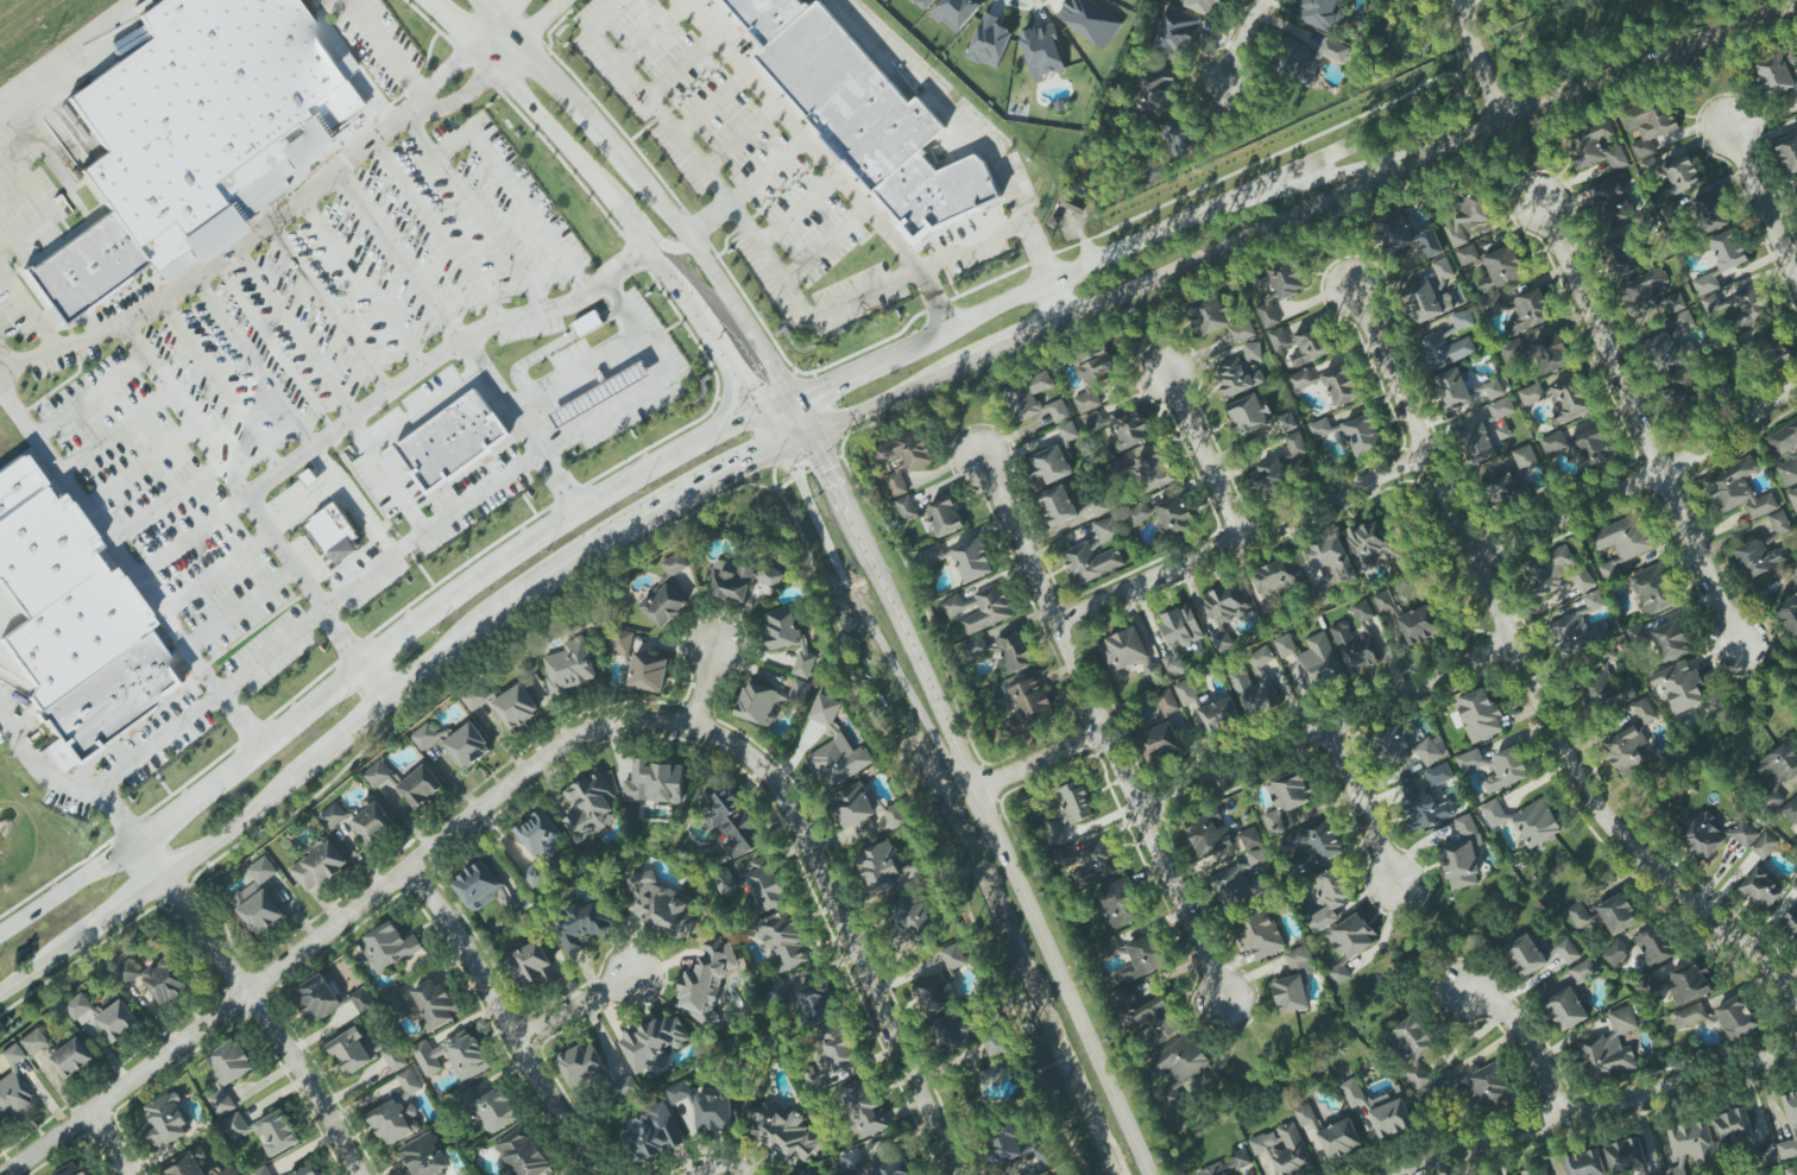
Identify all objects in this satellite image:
building: (922, 4)
building: (1204, 6)
building: (956, 12)
building: (1323, 14)
building: (1090, 20)
road: (494, 23)
road: (529, 32)
building: (1175, 32)
road: (648, 33)
park: (1436, 33)
building: (990, 42)
road: (1243, 43)
road: (64, 46)
building: (1042, 51)
road: (384, 52)
building: (1309, 59)
road: (1480, 62)
road: (679, 68)
building: (1778, 74)
road: (1622, 77)
building: (1155, 90)
road: (423, 106)
road: (712, 106)
building: (863, 109)
road: (967, 122)
building: (1648, 125)
building: (188, 126)
road: (801, 133)
building: (1179, 135)
road: (740, 138)
road: (454, 144)
building: (1595, 146)
building: (1787, 152)
road: (771, 172)
building: (1678, 176)
road: (1301, 185)
road: (655, 187)
building: (1796, 188)
road: (610, 195)
road: (1761, 197)
building: (1610, 200)
building: (1076, 204)
road: (529, 210)
road: (800, 210)
building: (1711, 211)
road: (477, 213)
building: (1469, 220)
road: (714, 222)
road: (437, 229)
road: (652, 232)
road: (1259, 232)
building: (1405, 234)
road: (761, 245)
road: (826, 245)
building: (1728, 249)
building: (1467, 254)
building: (1621, 254)
road: (398, 255)
road: (220, 259)
building: (1501, 269)
building: (1284, 278)
road: (1040, 280)
road: (361, 283)
building: (1705, 284)
building: (1432, 293)
building: (1650, 296)
road: (1058, 298)
road: (933, 301)
building: (1749, 304)
road: (329, 307)
road: (27, 309)
building: (1530, 311)
building: (1268, 315)
building: (1218, 320)
building: (1462, 320)
building: (1683, 321)
building: (588, 322)
road: (295, 331)
road: (1603, 333)
building: (1279, 339)
road: (1011, 345)
building: (1310, 346)
building: (1444, 349)
building: (1253, 350)
building: (1776, 350)
building: (1669, 352)
building: (1538, 353)
road: (439, 354)
road: (5, 358)
road: (254, 361)
road: (574, 368)
road: (862, 368)
building: (1093, 375)
building: (1237, 377)
building: (629, 378)
building: (1301, 379)
road: (221, 385)
road: (649, 385)
building: (1342, 386)
building: (1452, 388)
building: (1493, 390)
gas station: (601, 392)
building: (1533, 393)
building: (1684, 393)
building: (1028, 397)
road: (87, 398)
building: (1571, 399)
traffic signals: (796, 400)
road: (883, 403)
road: (422, 405)
road: (781, 408)
building: (1501, 408)
building: (1058, 410)
building: (1249, 413)
traffic signals: (765, 415)
road: (805, 417)
road: (518, 425)
building: (1121, 427)
building: (1320, 428)
road: (775, 431)
road: (112, 432)
building: (1067, 432)
traffic signals: (813, 435)
building: (1363, 435)
building: (449, 438)
building: (1784, 438)
building: (1553, 442)
building: (1295, 443)
building: (1476, 443)
traffic signals: (784, 449)
building: (1591, 449)
road: (1204, 451)
building: (902, 457)
building: (1525, 457)
building: (1051, 465)
road: (138, 468)
road: (778, 468)
building: (1155, 469)
building: (1787, 470)
road: (386, 475)
building: (1270, 476)
road: (1640, 479)
building: (1501, 487)
building: (1739, 489)
road: (241, 493)
road: (600, 497)
building: (1793, 498)
road: (351, 501)
road: (164, 503)
road: (298, 504)
building: (1058, 506)
building: (1101, 506)
building: (906, 508)
building: (1137, 513)
building: (946, 516)
building: (1175, 517)
building: (1780, 523)
building: (329, 526)
road: (429, 530)
road: (188, 536)
road: (1241, 536)
building: (1366, 542)
building: (1622, 543)
building: (932, 555)
building: (1400, 557)
road: (1701, 558)
building: (1760, 558)
building: (972, 560)
building: (1092, 562)
park: (1439, 562)
building: (675, 564)
building: (1330, 568)
road: (128, 570)
building: (1547, 570)
road: (214, 573)
building: (770, 575)
building: (1274, 577)
building: (731, 581)
building: (1584, 582)
building: (1653, 589)
building: (1594, 600)
building: (664, 605)
building: (1386, 605)
road: (895, 606)
road: (239, 608)
building: (988, 609)
building: (1224, 609)
building: (75, 617)
road: (866, 620)
building: (1419, 624)
building: (1180, 626)
road: (404, 630)
building: (1578, 632)
building: (788, 638)
building: (1356, 639)
building: (1671, 640)
building: (622, 642)
building: (1003, 650)
road: (271, 651)
building: (1127, 653)
building: (1313, 658)
building: (1174, 663)
building: (569, 667)
building: (648, 672)
road: (1522, 674)
road: (1766, 680)
road: (377, 682)
road: (706, 686)
building: (1256, 687)
building: (1681, 687)
building: (800, 690)
building: (1186, 693)
building: (475, 696)
road: (396, 700)
building: (1030, 702)
building: (1167, 702)
road: (310, 703)
building: (759, 705)
building: (516, 707)
building: (1478, 715)
building: (1219, 716)
road: (1101, 726)
road: (1324, 728)
road: (378, 734)
building: (425, 737)
building: (1159, 741)
road: (151, 744)
building: (468, 746)
building: (1407, 746)
building: (836, 747)
road: (1040, 760)
building: (1495, 767)
building: (1777, 770)
building: (378, 773)
building: (1439, 775)
building: (654, 783)
building: (421, 787)
road: (64, 790)
road: (196, 794)
building: (1287, 797)
building: (1076, 802)
road: (1361, 806)
building: (1423, 806)
building: (589, 807)
building: (1791, 810)
building: (865, 811)
building: (333, 816)
building: (730, 820)
building: (1525, 821)
building: (373, 823)
road: (926, 830)
building: (538, 833)
building: (1055, 833)
building: (1744, 834)
building: (1211, 835)
building: (1250, 838)
building: (1703, 838)
building: (1317, 841)
building: (1764, 846)
building: (1462, 855)
building: (1098, 863)
building: (319, 865)
building: (887, 868)
building: (535, 872)
building: (1246, 879)
building: (478, 885)
road: (68, 887)
building: (1761, 889)
building: (260, 899)
building: (1329, 899)
building: (1121, 903)
building: (661, 906)
building: (1604, 916)
building: (912, 918)
road: (339, 921)
building: (582, 926)
road: (847, 929)
building: (1260, 934)
building: (784, 940)
road: (1419, 942)
building: (1350, 943)
building: (387, 947)
building: (1642, 947)
building: (1110, 948)
building: (1566, 952)
building: (1525, 955)
building: (1143, 958)
building: (532, 964)
building: (1583, 971)
road: (1061, 975)
building: (156, 979)
building: (1294, 981)
building: (700, 984)
building: (941, 984)
building: (1690, 984)
building: (317, 998)
building: (361, 1000)
road: (254, 1003)
building: (813, 1004)
building: (433, 1005)
building: (78, 1006)
road: (575, 1007)
building: (1566, 1009)
building: (1692, 1016)
building: (1736, 1017)
building: (1150, 1018)
building: (118, 1022)
road: (506, 1022)
building: (967, 1035)
road: (1526, 1041)
building: (31, 1042)
building: (652, 1042)
building: (1609, 1047)
building: (837, 1048)
building: (1412, 1048)
building: (351, 1051)
building: (10, 1055)
building: (453, 1056)
building: (72, 1057)
building: (396, 1059)
building: (581, 1066)
building: (1178, 1067)
building: (228, 1073)
building: (410, 1082)
building: (625, 1087)
building: (1475, 1088)
building: (679, 1092)
building: (1353, 1093)
building: (13, 1098)
road: (1596, 1107)
building: (863, 1108)
building: (496, 1110)
building: (714, 1111)
building: (1306, 1118)
building: (1391, 1118)
building: (166, 1120)
building: (395, 1122)
building: (1732, 1125)
building: (1792, 1129)
building: (266, 1131)
building: (784, 1131)
building: (654, 1133)
building: (1339, 1139)
road: (118, 1142)
building: (1691, 1142)
building: (1021, 1148)
building: (1284, 1149)
building: (523, 1154)
building: (1764, 1154)
building: (1625, 1156)
building: (424, 1157)
building: (1241, 1158)
building: (852, 1161)
building: (188, 1163)
road: (721, 1163)
building: (1585, 1163)
building: (893, 1167)
building: (1213, 1169)
building: (71, 1170)
building: (307, 1170)
building: (1676, 1170)
building: (1792, 1170)
building: (229, 1171)
building: (261, 1171)
building: (1538, 1171)
building: (802, 1173)
building: (469, 1174)
building: (1660, 1174)

